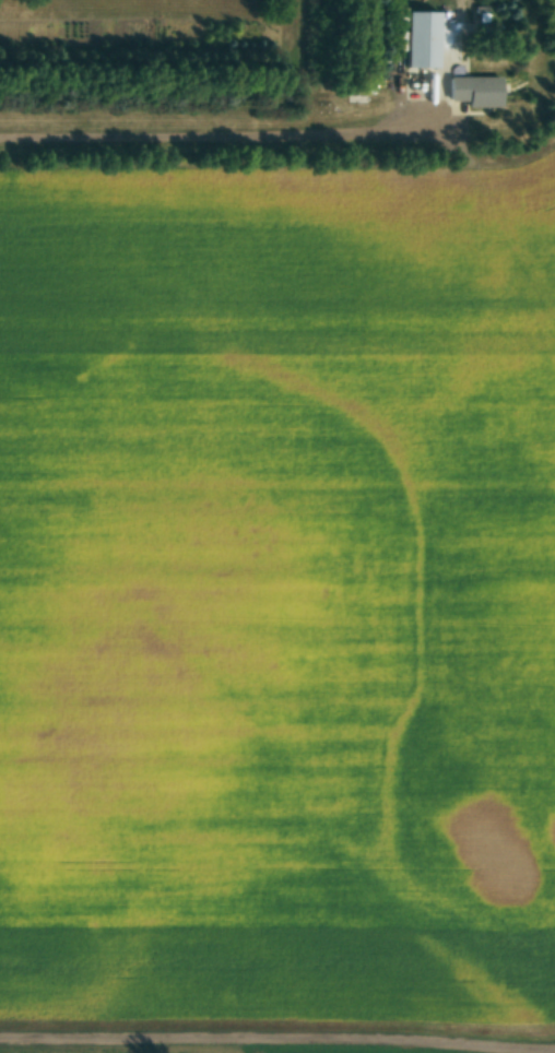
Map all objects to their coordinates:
building: (420, 37)
building: (473, 90)
road: (217, 137)
road: (277, 1025)

